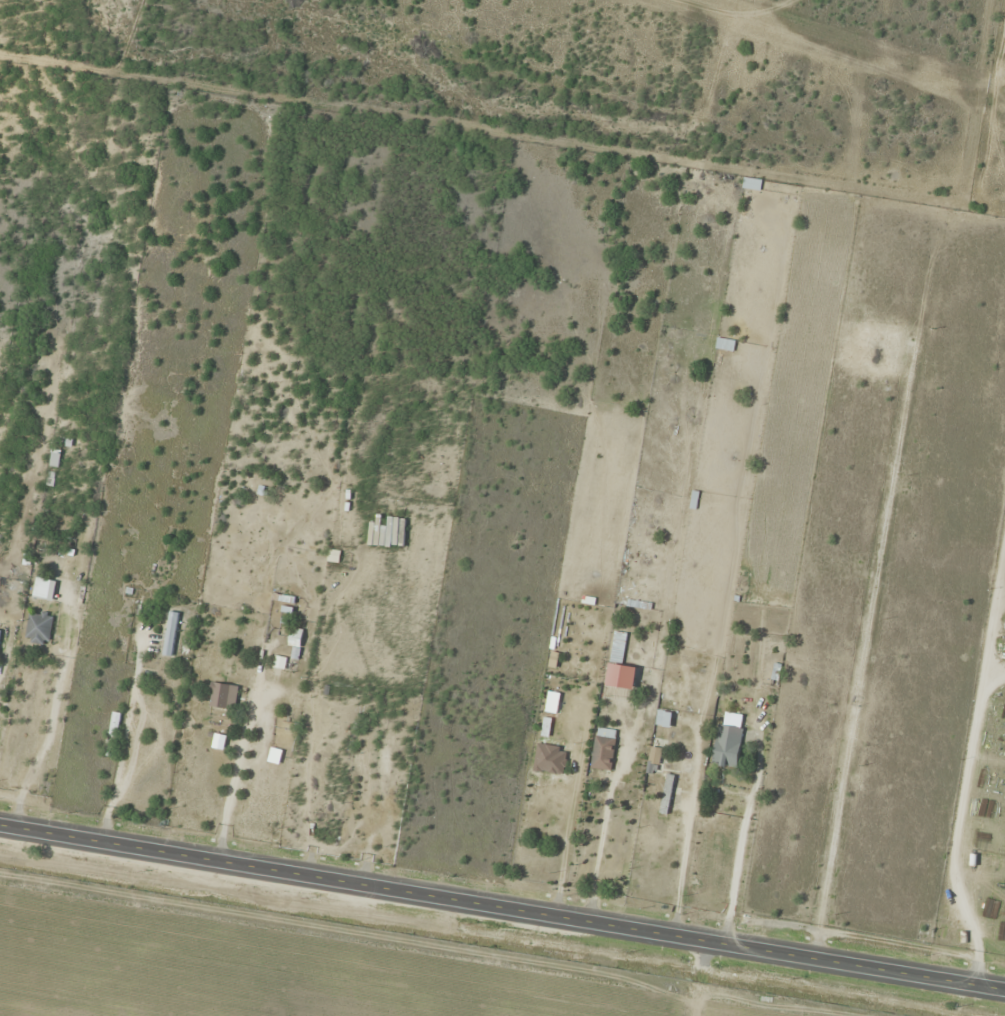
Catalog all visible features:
building: (751, 184)
building: (725, 345)
building: (54, 457)
building: (694, 500)
building: (42, 588)
building: (38, 628)
building: (170, 633)
building: (295, 635)
building: (223, 695)
building: (552, 702)
building: (634, 716)
building: (663, 718)
building: (114, 724)
building: (553, 742)
building: (727, 745)
building: (368, 755)
building: (610, 778)
road: (502, 907)
road: (697, 978)

